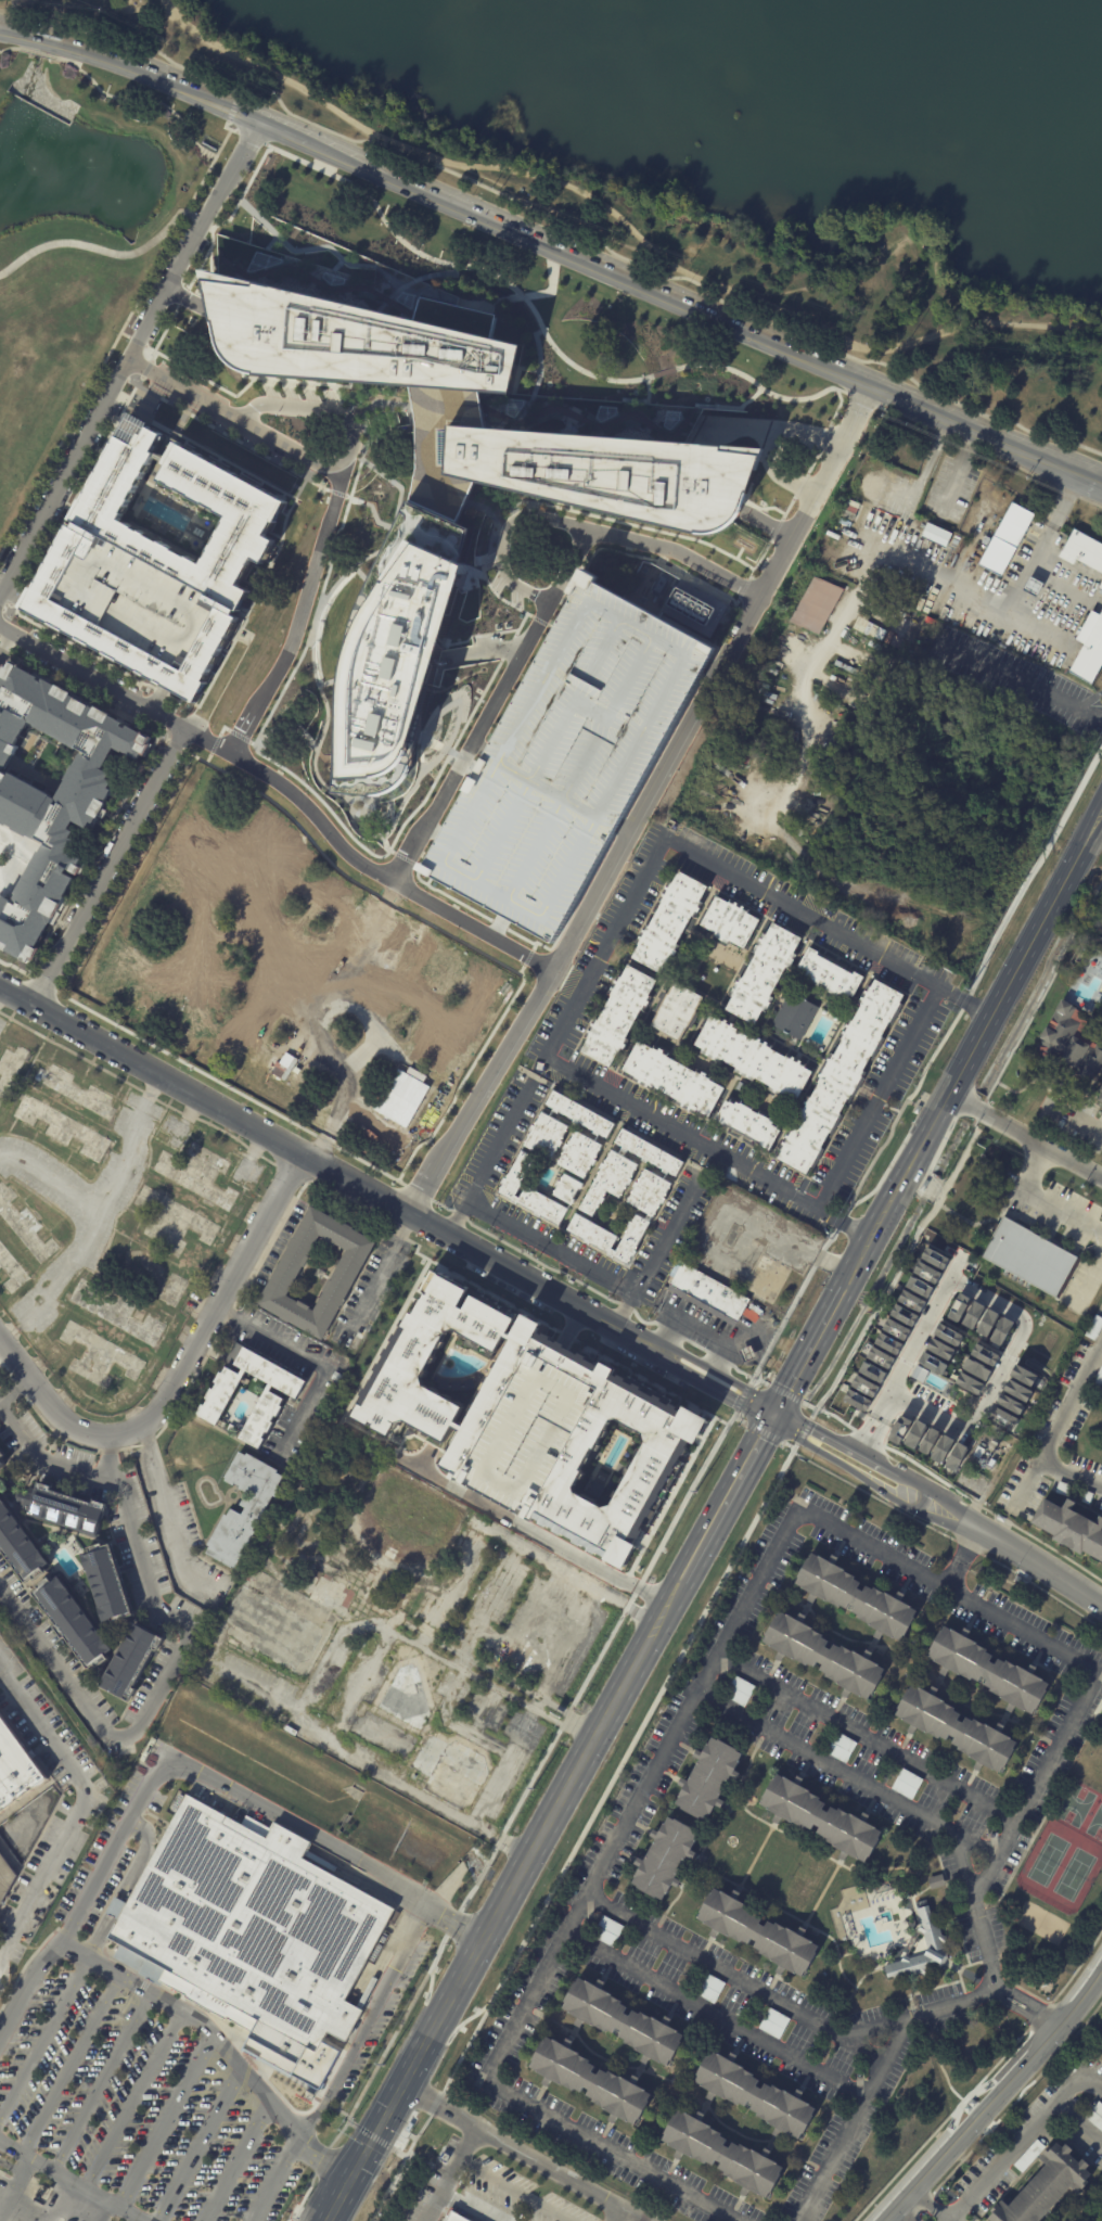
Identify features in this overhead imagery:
road: (128, 3)
road: (168, 9)
road: (39, 14)
road: (33, 17)
park: (150, 33)
road: (104, 56)
road: (112, 97)
road: (233, 105)
road: (232, 110)
road: (227, 128)
road: (285, 132)
road: (251, 138)
road: (221, 144)
fountain: (90, 158)
road: (348, 158)
road: (312, 165)
fountain: (33, 168)
road: (590, 197)
fountain: (117, 201)
road: (228, 219)
road: (592, 232)
road: (553, 233)
park: (78, 243)
road: (319, 246)
road: (105, 251)
building: (266, 260)
park: (764, 260)
road: (603, 269)
road: (453, 273)
road: (437, 275)
road: (428, 276)
road: (691, 277)
building: (336, 278)
road: (948, 278)
road: (412, 281)
road: (509, 283)
road: (526, 295)
road: (182, 296)
road: (188, 297)
building: (409, 298)
road: (1089, 333)
road: (125, 334)
building: (347, 340)
road: (138, 341)
road: (150, 347)
road: (538, 349)
road: (106, 356)
road: (128, 356)
road: (153, 356)
road: (880, 356)
road: (106, 368)
road: (145, 368)
road: (664, 372)
road: (118, 375)
road: (258, 379)
road: (140, 381)
road: (754, 382)
road: (538, 384)
road: (838, 388)
road: (132, 390)
road: (648, 390)
road: (626, 399)
road: (699, 405)
road: (742, 406)
road: (837, 406)
road: (221, 407)
road: (528, 407)
road: (322, 409)
road: (956, 420)
road: (599, 423)
road: (736, 426)
road: (218, 429)
building: (523, 429)
road: (174, 433)
road: (809, 435)
road: (823, 441)
park: (225, 444)
road: (209, 451)
road: (328, 464)
road: (811, 465)
road: (959, 468)
road: (776, 471)
building: (614, 472)
building: (894, 474)
road: (317, 475)
road: (306, 477)
building: (907, 478)
road: (1095, 481)
road: (332, 483)
road: (302, 484)
road: (318, 484)
road: (296, 486)
road: (799, 486)
parking lot: (60, 505)
road: (68, 508)
road: (787, 509)
road: (601, 516)
road: (757, 519)
road: (776, 531)
road: (505, 535)
building: (937, 535)
road: (384, 538)
road: (746, 539)
building: (1007, 539)
road: (739, 551)
building: (1082, 551)
road: (619, 552)
road: (759, 559)
building: (154, 564)
building: (1100, 585)
road: (744, 587)
building: (1037, 587)
building: (1100, 591)
road: (499, 598)
road: (252, 600)
building: (914, 601)
building: (691, 605)
building: (818, 605)
building: (927, 605)
road: (1, 608)
road: (1004, 609)
road: (322, 611)
building: (905, 614)
road: (300, 616)
road: (539, 621)
building: (925, 623)
road: (537, 625)
road: (721, 629)
road: (4, 638)
road: (78, 647)
road: (483, 648)
building: (1089, 650)
road: (709, 664)
building: (394, 665)
road: (707, 665)
road: (1023, 684)
road: (520, 686)
road: (161, 691)
road: (157, 697)
road: (182, 698)
building: (835, 710)
road: (222, 728)
road: (239, 735)
road: (460, 736)
road: (253, 742)
road: (665, 743)
road: (215, 744)
road: (478, 746)
road: (484, 750)
road: (454, 752)
road: (315, 755)
building: (564, 756)
parking garage: (564, 756)
road: (208, 757)
road: (464, 757)
road: (474, 763)
road: (285, 786)
building: (51, 788)
road: (645, 802)
road: (329, 808)
road: (398, 808)
road: (620, 825)
road: (619, 826)
road: (383, 840)
road: (387, 847)
road: (100, 848)
road: (106, 866)
road: (412, 868)
road: (482, 908)
road: (400, 911)
building: (729, 921)
building: (668, 922)
park: (1100, 927)
road: (605, 948)
road: (527, 958)
building: (763, 972)
building: (828, 973)
road: (1, 990)
road: (15, 995)
road: (1040, 996)
building: (677, 1010)
building: (793, 1014)
building: (619, 1016)
road: (1001, 1029)
building: (1067, 1042)
road: (971, 1054)
building: (753, 1058)
road: (924, 1072)
road: (203, 1073)
building: (840, 1076)
building: (671, 1078)
building: (740, 1086)
building: (402, 1096)
road: (880, 1096)
building: (1100, 1097)
building: (578, 1113)
building: (428, 1114)
road: (1075, 1118)
building: (746, 1122)
building: (544, 1136)
road: (1024, 1136)
road: (423, 1143)
road: (126, 1147)
building: (648, 1151)
road: (252, 1152)
building: (579, 1154)
road: (488, 1162)
road: (321, 1166)
road: (1031, 1167)
road: (886, 1170)
parking lot: (244, 1173)
building: (515, 1174)
building: (607, 1180)
building: (566, 1188)
road: (413, 1189)
building: (649, 1191)
building: (541, 1204)
road: (1061, 1210)
road: (985, 1220)
building: (590, 1233)
road: (91, 1236)
building: (630, 1238)
road: (415, 1248)
road: (549, 1248)
building: (934, 1258)
building: (1028, 1258)
road: (652, 1259)
road: (899, 1271)
building: (287, 1272)
building: (926, 1272)
road: (377, 1273)
road: (1087, 1276)
building: (919, 1287)
road: (589, 1288)
building: (708, 1290)
road: (988, 1298)
building: (911, 1301)
building: (958, 1307)
building: (904, 1315)
building: (973, 1315)
road: (927, 1324)
building: (987, 1324)
road: (566, 1328)
building: (1093, 1328)
road: (669, 1329)
building: (895, 1329)
building: (1001, 1331)
road: (712, 1332)
building: (947, 1335)
building: (887, 1342)
road: (818, 1344)
road: (589, 1345)
building: (939, 1349)
building: (746, 1353)
gas station: (746, 1353)
building: (985, 1355)
road: (680, 1356)
road: (718, 1356)
building: (881, 1357)
road: (315, 1360)
road: (1097, 1360)
building: (932, 1363)
building: (975, 1368)
road: (369, 1369)
road: (179, 1371)
building: (871, 1373)
building: (919, 1374)
building: (1023, 1376)
road: (997, 1377)
building: (1098, 1378)
building: (969, 1382)
road: (706, 1384)
building: (863, 1386)
road: (14, 1391)
building: (1016, 1391)
building: (219, 1394)
road: (785, 1394)
road: (742, 1397)
building: (857, 1400)
building: (1010, 1403)
road: (776, 1405)
traffic signals: (774, 1408)
road: (776, 1409)
traffic signals: (781, 1413)
road: (927, 1414)
road: (779, 1415)
building: (527, 1417)
building: (1003, 1418)
traffic signals: (768, 1420)
road: (874, 1424)
road: (1055, 1424)
traffic signals: (774, 1425)
building: (231, 1428)
building: (899, 1429)
road: (763, 1431)
parking garage: (527, 1433)
road: (804, 1433)
building: (913, 1434)
building: (927, 1441)
building: (943, 1448)
road: (110, 1453)
building: (1, 1454)
building: (956, 1456)
road: (424, 1458)
road: (47, 1460)
road: (874, 1463)
building: (2, 1464)
road: (1069, 1473)
road: (867, 1477)
road: (743, 1479)
building: (971, 1480)
building: (1062, 1488)
road: (473, 1493)
road: (960, 1493)
road: (914, 1495)
building: (1084, 1496)
road: (168, 1505)
building: (1100, 1506)
building: (62, 1508)
building: (254, 1510)
building: (1069, 1528)
road: (533, 1531)
road: (948, 1537)
building: (20, 1546)
road: (1021, 1555)
road: (139, 1557)
road: (960, 1557)
building: (107, 1584)
road: (947, 1587)
building: (855, 1597)
building: (72, 1622)
building: (548, 1622)
building: (823, 1655)
building: (129, 1661)
road: (55, 1664)
building: (987, 1670)
building: (740, 1685)
road: (155, 1686)
building: (734, 1695)
road: (601, 1726)
building: (953, 1727)
road: (868, 1735)
building: (843, 1741)
building: (836, 1751)
building: (15, 1770)
road: (845, 1775)
building: (708, 1778)
building: (909, 1778)
road: (1034, 1782)
building: (904, 1788)
road: (641, 1792)
road: (238, 1796)
park: (1075, 1805)
road: (78, 1807)
building: (821, 1817)
road: (510, 1823)
park: (1095, 1824)
road: (582, 1835)
road: (143, 1858)
building: (664, 1858)
park: (1047, 1859)
park: (1075, 1874)
parking lot: (94, 1877)
road: (966, 1877)
building: (5, 1879)
building: (935, 1881)
fountain: (882, 1919)
fountain: (884, 1920)
fountain: (882, 1922)
building: (611, 1926)
building: (249, 1930)
building: (757, 1931)
building: (605, 1936)
building: (933, 1939)
road: (97, 1943)
road: (988, 1954)
road: (735, 1973)
building: (712, 1981)
building: (706, 1991)
parking lot: (394, 1996)
road: (960, 2002)
road: (177, 2008)
road: (1026, 2009)
road: (713, 2014)
building: (776, 2018)
building: (622, 2021)
road: (884, 2022)
road: (366, 2025)
building: (771, 2028)
road: (43, 2038)
building: (1101, 2041)
road: (414, 2063)
road: (71, 2065)
road: (984, 2078)
building: (590, 2080)
road: (99, 2081)
road: (986, 2085)
building: (755, 2095)
road: (994, 2095)
road: (131, 2099)
parking lot: (141, 2104)
building: (1098, 2108)
road: (337, 2112)
road: (168, 2119)
road: (848, 2119)
building: (1094, 2119)
road: (1076, 2123)
road: (1023, 2136)
road: (200, 2137)
road: (413, 2137)
road: (377, 2140)
road: (462, 2145)
road: (511, 2147)
road: (15, 2148)
road: (613, 2149)
building: (722, 2154)
building: (1029, 2156)
road: (236, 2157)
building: (444, 2157)
road: (11, 2167)
road: (273, 2179)
building: (1045, 2187)
road: (437, 2192)
parking lot: (485, 2192)
road: (507, 2192)
road: (105, 2200)
parking lot: (16, 2204)
road: (932, 2204)
road: (4, 2206)
road: (76, 2206)
road: (464, 2206)
road: (333, 2207)
road: (102, 2211)
road: (618, 2212)
road: (640, 2212)
road: (904, 2212)
road: (43, 2216)
building: (456, 2217)
road: (42, 2219)
road: (907, 2219)

